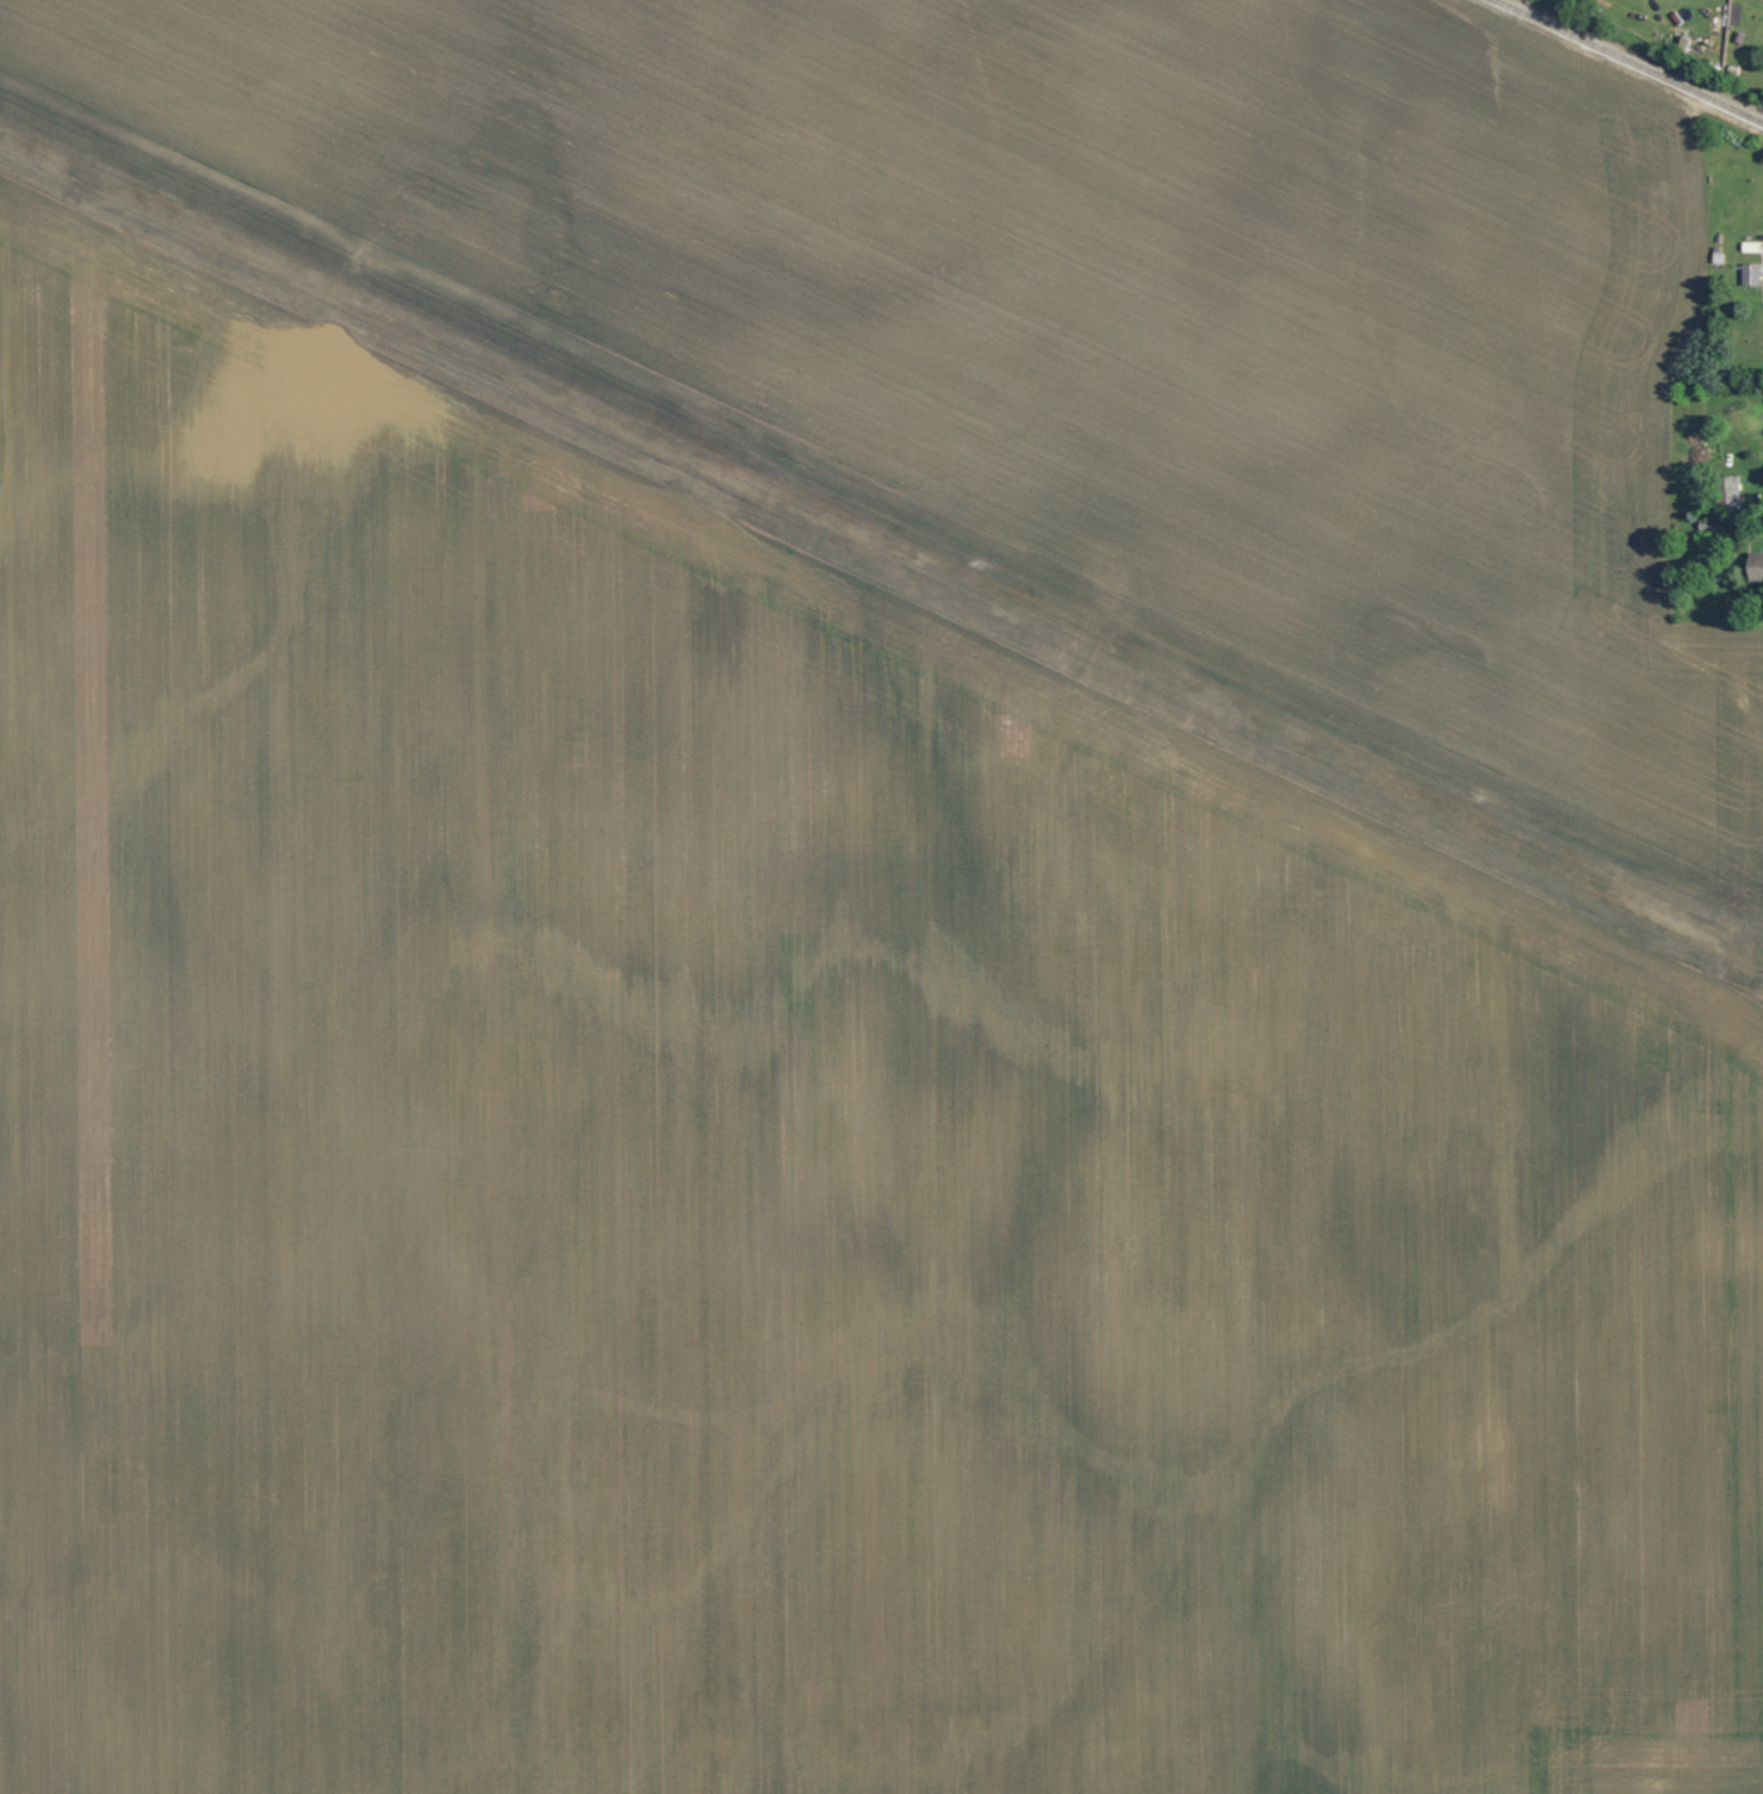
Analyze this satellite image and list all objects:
railway: (1628, 60)
building: (1748, 273)
building: (1725, 490)

